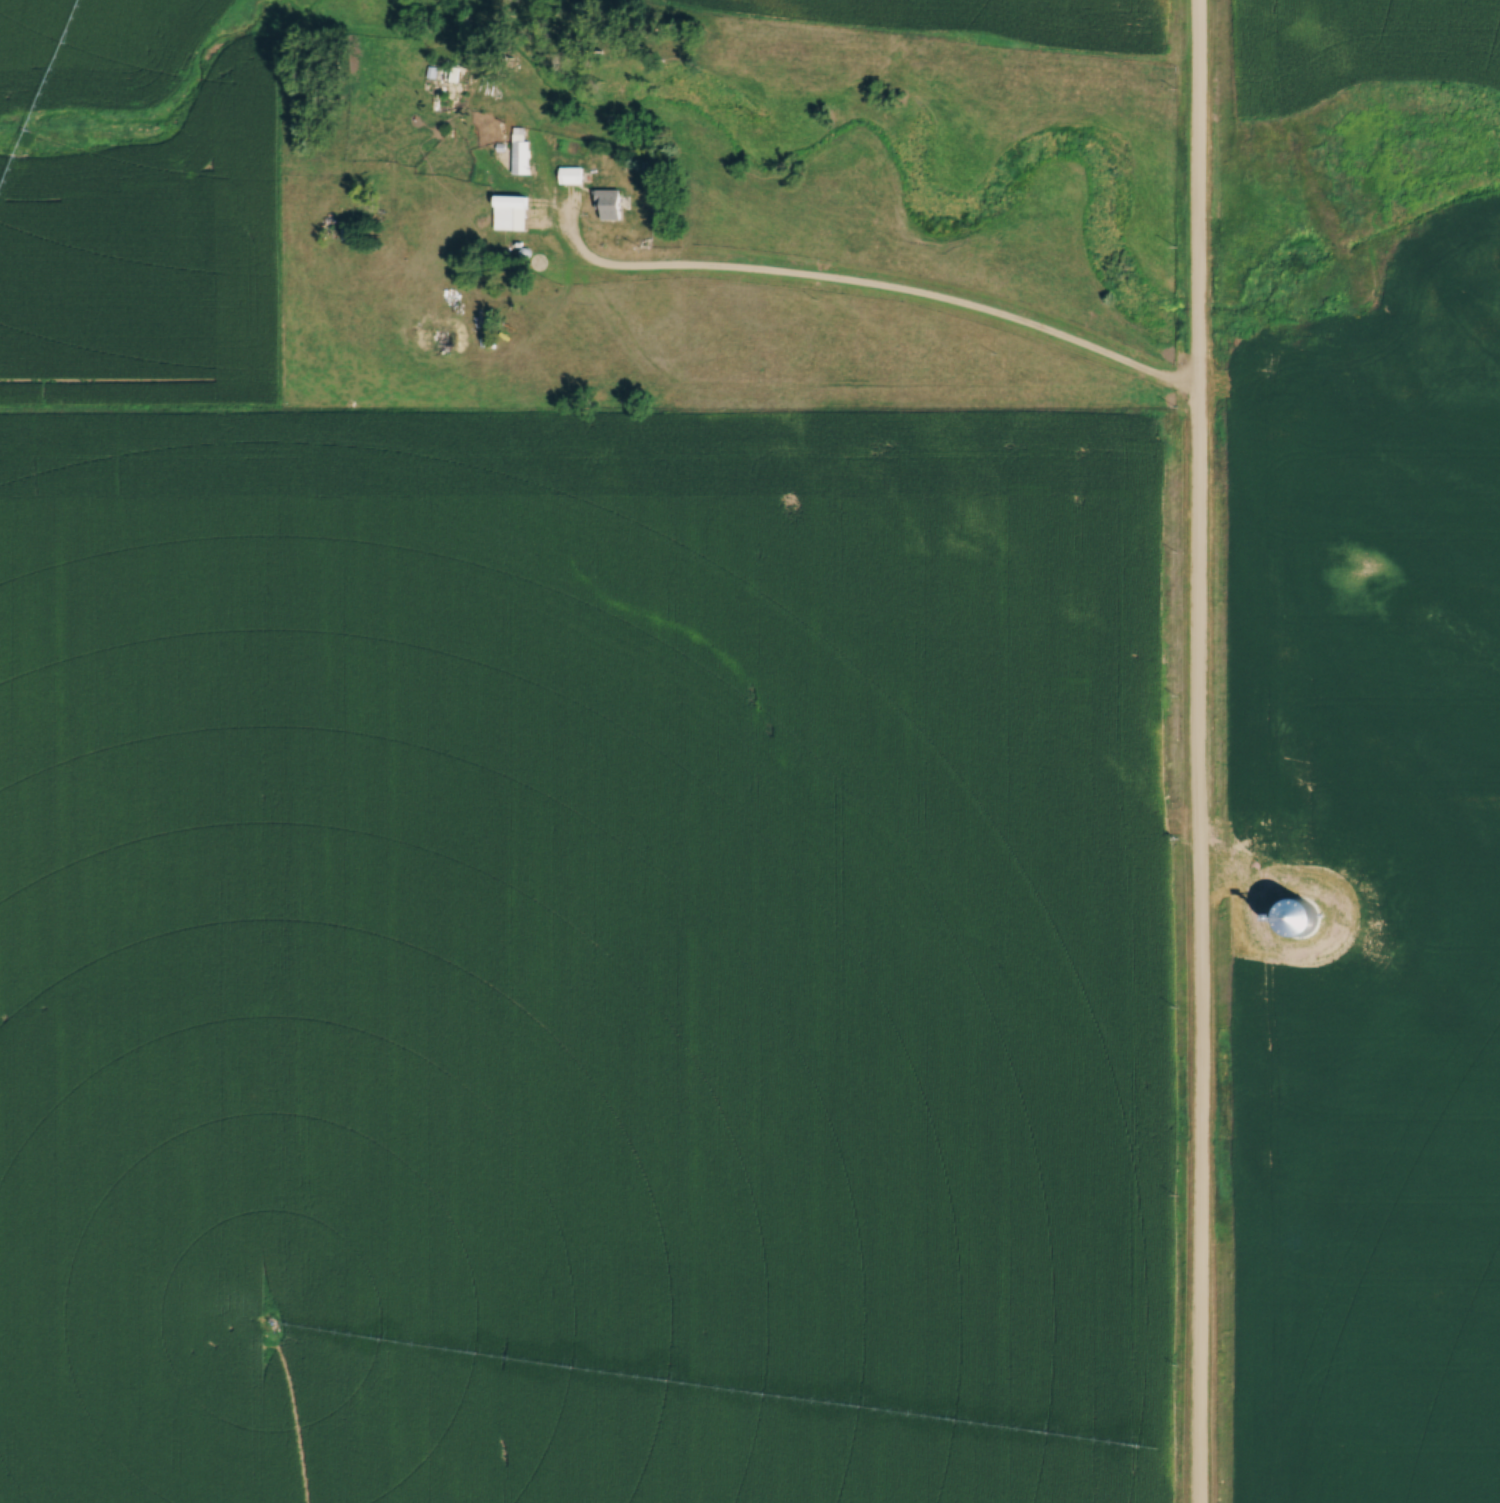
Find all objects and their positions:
crop: (1027, 20)
crop: (93, 43)
building: (455, 73)
building: (529, 159)
building: (571, 174)
building: (609, 204)
building: (510, 216)
road: (863, 286)
road: (1200, 751)

